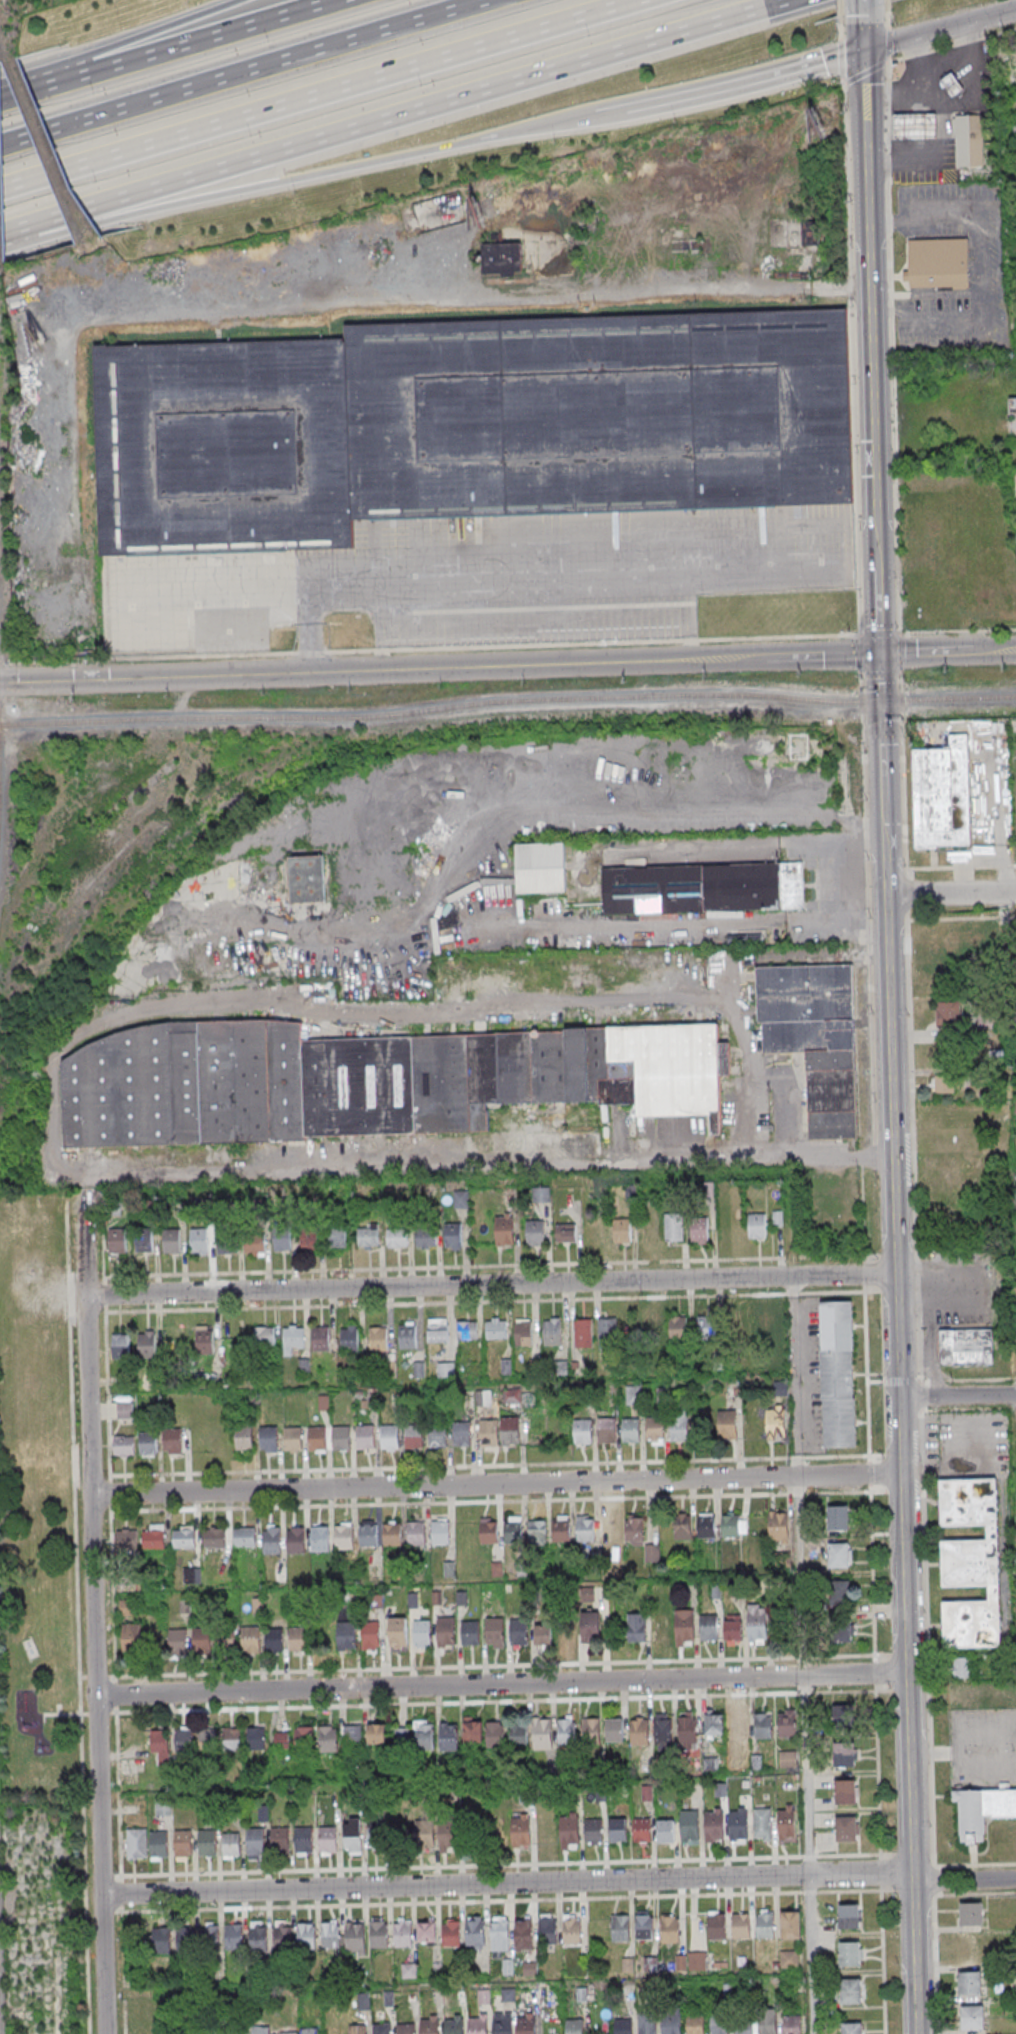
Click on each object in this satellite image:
road: (862, 8)
road: (838, 10)
road: (939, 29)
road: (152, 42)
road: (199, 44)
traffic signals: (863, 50)
road: (245, 74)
road: (865, 74)
road: (745, 83)
building: (953, 87)
road: (923, 94)
road: (27, 95)
road: (320, 97)
road: (938, 100)
road: (599, 114)
road: (412, 115)
road: (948, 118)
building: (916, 129)
building: (970, 142)
road: (295, 178)
road: (9, 227)
building: (810, 233)
building: (502, 259)
building: (937, 263)
road: (869, 281)
road: (891, 282)
road: (851, 325)
building: (467, 428)
road: (878, 600)
road: (958, 632)
road: (1000, 650)
road: (932, 652)
road: (859, 653)
road: (900, 653)
traffic signals: (880, 654)
road: (827, 656)
road: (386, 670)
road: (880, 698)
railway: (507, 701)
railway: (400, 718)
traffic signals: (882, 744)
building: (942, 794)
road: (831, 837)
road: (960, 867)
building: (541, 871)
building: (306, 879)
building: (703, 890)
road: (584, 891)
road: (950, 894)
road: (961, 917)
building: (957, 942)
building: (949, 1014)
building: (815, 1038)
road: (767, 1077)
building: (364, 1080)
building: (943, 1085)
road: (487, 1169)
building: (541, 1194)
building: (460, 1199)
building: (673, 1227)
building: (757, 1228)
building: (504, 1230)
building: (565, 1232)
building: (699, 1232)
building: (623, 1233)
building: (337, 1235)
building: (367, 1236)
building: (535, 1236)
building: (396, 1237)
building: (453, 1237)
building: (309, 1239)
building: (425, 1239)
building: (117, 1240)
building: (144, 1241)
building: (171, 1241)
building: (199, 1241)
building: (281, 1241)
building: (225, 1243)
building: (254, 1245)
road: (484, 1267)
road: (490, 1285)
road: (927, 1286)
road: (485, 1303)
building: (495, 1328)
building: (466, 1329)
building: (437, 1330)
building: (765, 1330)
building: (678, 1331)
building: (707, 1331)
building: (652, 1332)
building: (607, 1333)
building: (264, 1335)
building: (584, 1335)
building: (552, 1336)
building: (292, 1337)
building: (523, 1337)
building: (408, 1340)
building: (321, 1342)
building: (379, 1342)
building: (350, 1343)
building: (206, 1345)
building: (966, 1347)
building: (147, 1348)
building: (122, 1349)
road: (866, 1351)
road: (930, 1352)
building: (838, 1374)
road: (796, 1376)
road: (107, 1377)
road: (898, 1389)
road: (957, 1396)
building: (483, 1398)
building: (124, 1411)
building: (775, 1422)
building: (727, 1428)
building: (679, 1429)
building: (607, 1431)
building: (510, 1432)
building: (655, 1432)
building: (631, 1434)
building: (583, 1435)
building: (489, 1436)
building: (462, 1437)
building: (437, 1438)
building: (413, 1440)
building: (366, 1441)
building: (390, 1441)
building: (245, 1442)
building: (270, 1442)
building: (294, 1442)
building: (318, 1442)
building: (342, 1442)
building: (174, 1444)
building: (123, 1446)
building: (149, 1447)
road: (490, 1467)
road: (495, 1485)
road: (473, 1503)
park: (36, 1510)
building: (838, 1518)
building: (778, 1526)
building: (682, 1530)
building: (706, 1530)
building: (731, 1530)
building: (489, 1533)
building: (513, 1533)
building: (585, 1533)
building: (610, 1533)
building: (562, 1534)
building: (634, 1534)
building: (537, 1535)
building: (183, 1537)
building: (215, 1537)
building: (244, 1537)
building: (369, 1537)
building: (416, 1537)
building: (441, 1537)
building: (153, 1538)
building: (392, 1538)
building: (345, 1540)
building: (126, 1541)
building: (321, 1542)
building: (297, 1544)
building: (273, 1545)
building: (838, 1556)
building: (971, 1563)
building: (449, 1569)
building: (194, 1575)
road: (801, 1576)
building: (840, 1591)
road: (93, 1607)
building: (126, 1608)
building: (757, 1623)
building: (636, 1627)
building: (660, 1627)
building: (684, 1627)
building: (709, 1627)
building: (591, 1628)
building: (733, 1629)
building: (446, 1631)
building: (842, 1631)
building: (565, 1633)
building: (346, 1635)
building: (397, 1635)
building: (495, 1635)
building: (519, 1635)
building: (543, 1635)
building: (422, 1636)
building: (470, 1637)
building: (132, 1638)
building: (372, 1638)
building: (226, 1639)
building: (201, 1640)
building: (251, 1640)
building: (300, 1642)
building: (177, 1643)
building: (275, 1643)
road: (495, 1666)
building: (963, 1668)
road: (501, 1684)
road: (478, 1703)
building: (844, 1724)
building: (714, 1725)
building: (787, 1729)
building: (472, 1730)
building: (739, 1730)
building: (763, 1730)
building: (518, 1734)
building: (542, 1734)
building: (687, 1734)
building: (376, 1735)
building: (591, 1735)
building: (615, 1735)
building: (664, 1735)
building: (415, 1736)
building: (567, 1736)
building: (640, 1736)
building: (449, 1737)
building: (255, 1738)
building: (495, 1738)
building: (231, 1739)
building: (295, 1739)
building: (328, 1739)
building: (352, 1739)
building: (208, 1740)
building: (182, 1741)
building: (160, 1746)
building: (787, 1759)
building: (844, 1760)
road: (806, 1774)
building: (846, 1799)
building: (162, 1807)
building: (982, 1811)
building: (762, 1823)
building: (714, 1824)
building: (738, 1824)
building: (786, 1824)
building: (689, 1826)
building: (569, 1829)
building: (520, 1830)
building: (593, 1831)
building: (617, 1831)
building: (641, 1831)
building: (665, 1831)
building: (424, 1834)
building: (378, 1835)
building: (450, 1835)
building: (847, 1836)
building: (327, 1838)
building: (352, 1838)
building: (280, 1839)
building: (303, 1839)
building: (255, 1840)
building: (207, 1842)
building: (136, 1843)
building: (183, 1843)
building: (158, 1844)
building: (231, 1844)
road: (418, 1866)
road: (964, 1880)
road: (508, 1882)
road: (440, 1902)
building: (971, 1914)
building: (849, 1916)
building: (764, 1924)
building: (791, 1924)
building: (741, 1925)
building: (645, 1926)
building: (717, 1926)
building: (620, 1927)
building: (547, 1928)
building: (669, 1930)
building: (427, 1931)
building: (572, 1931)
building: (450, 1932)
building: (475, 1932)
building: (330, 1934)
building: (379, 1934)
building: (403, 1934)
building: (499, 1934)
building: (211, 1935)
building: (307, 1935)
building: (355, 1935)
building: (523, 1935)
building: (234, 1936)
building: (258, 1936)
building: (282, 1938)
building: (161, 1939)
building: (186, 1939)
building: (970, 1950)
building: (850, 1954)
building: (789, 1959)
building: (697, 1961)
building: (970, 1983)
building: (851, 1992)
building: (538, 1996)
building: (973, 2017)
building: (671, 2022)
building: (694, 2022)
building: (767, 2022)
building: (647, 2023)
building: (719, 2024)
building: (792, 2024)
building: (477, 2025)
building: (502, 2025)
building: (526, 2025)
building: (575, 2025)
building: (430, 2026)
building: (454, 2026)
building: (623, 2026)
building: (357, 2028)
building: (381, 2028)
building: (406, 2028)
building: (743, 2028)
building: (851, 2028)
building: (261, 2030)
building: (309, 2030)
building: (285, 2033)

